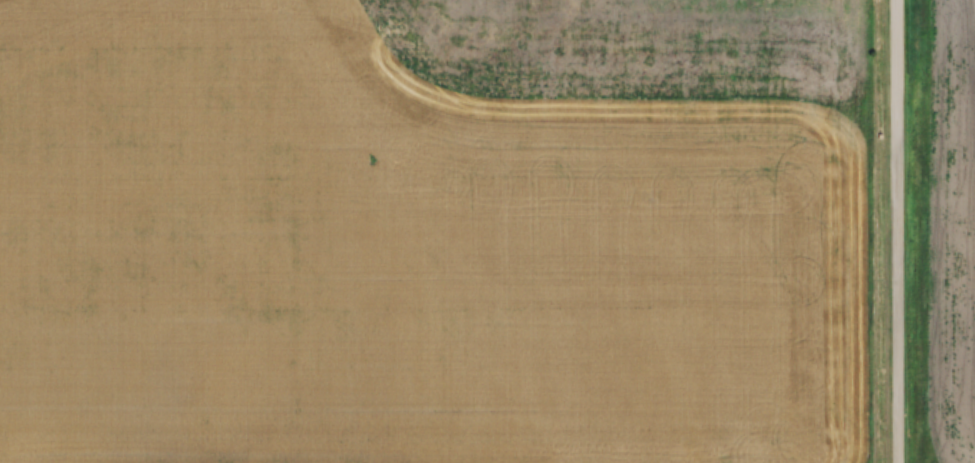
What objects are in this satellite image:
road: (900, 231)

